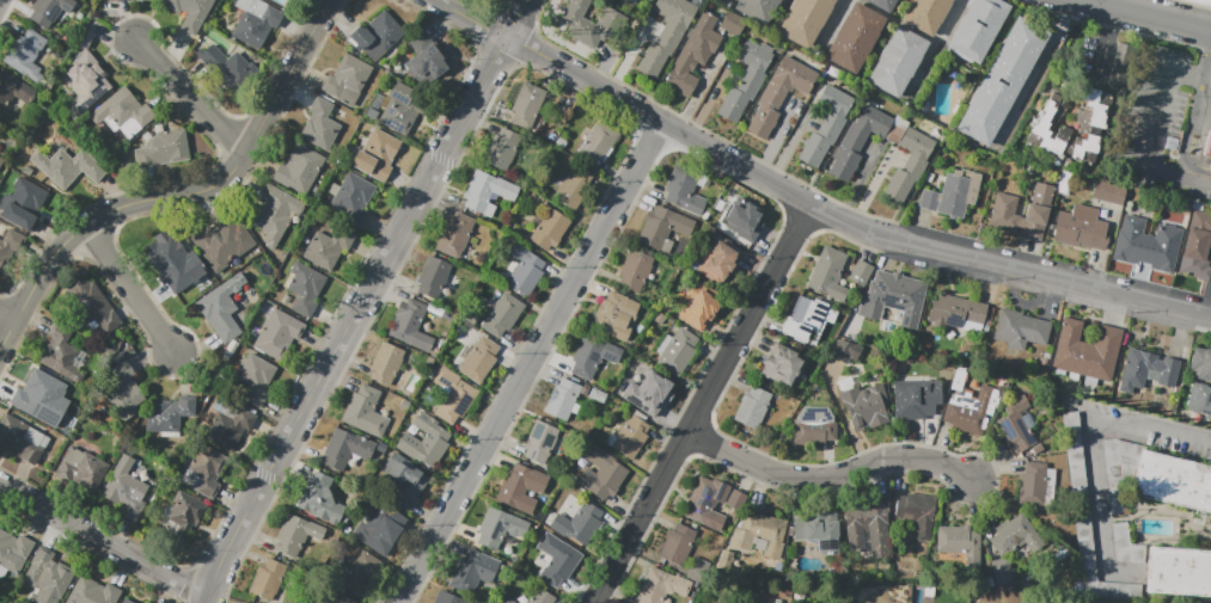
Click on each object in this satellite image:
building: (115, 0)
building: (630, 1)
building: (1201, 1)
building: (882, 4)
building: (757, 8)
building: (48, 12)
building: (190, 12)
building: (925, 14)
road: (1148, 16)
road: (470, 19)
building: (805, 20)
building: (253, 21)
building: (591, 21)
road: (833, 21)
building: (977, 29)
building: (377, 35)
building: (666, 36)
building: (854, 37)
road: (1103, 39)
road: (937, 42)
building: (25, 55)
building: (692, 55)
building: (424, 60)
building: (897, 62)
building: (1119, 64)
road: (1036, 67)
building: (230, 68)
building: (347, 80)
building: (746, 80)
building: (1002, 81)
building: (86, 84)
building: (13, 90)
building: (781, 92)
road: (192, 93)
building: (526, 105)
building: (402, 109)
building: (1091, 110)
building: (123, 112)
road: (1203, 112)
road: (1193, 121)
building: (320, 125)
building: (826, 125)
building: (1040, 127)
road: (1150, 133)
building: (857, 141)
building: (592, 143)
building: (1084, 147)
building: (1209, 148)
building: (163, 149)
building: (502, 149)
building: (375, 154)
building: (1, 160)
building: (909, 165)
building: (67, 166)
building: (1210, 166)
building: (299, 170)
building: (574, 186)
building: (684, 190)
building: (487, 192)
road: (181, 193)
building: (953, 193)
building: (1108, 193)
building: (353, 198)
building: (25, 204)
building: (1003, 208)
building: (275, 214)
road: (843, 216)
building: (747, 221)
building: (548, 227)
building: (662, 228)
building: (1082, 228)
building: (454, 235)
building: (222, 241)
building: (328, 246)
building: (1197, 246)
building: (8, 247)
building: (1150, 247)
building: (167, 260)
building: (236, 261)
building: (717, 263)
building: (525, 269)
building: (635, 270)
building: (1138, 270)
building: (861, 272)
building: (828, 275)
building: (433, 276)
road: (130, 287)
building: (304, 287)
building: (894, 299)
road: (362, 300)
building: (92, 303)
building: (699, 306)
building: (221, 308)
building: (955, 310)
building: (502, 314)
road: (7, 316)
building: (616, 316)
building: (808, 316)
building: (427, 326)
building: (414, 327)
building: (1020, 330)
building: (277, 333)
building: (843, 350)
building: (1088, 350)
building: (677, 351)
building: (65, 353)
building: (592, 356)
building: (478, 359)
road: (530, 362)
building: (386, 363)
building: (1200, 363)
building: (782, 367)
building: (1146, 370)
building: (256, 379)
road: (715, 384)
building: (1003, 384)
building: (124, 390)
building: (649, 394)
building: (453, 395)
building: (39, 396)
building: (562, 398)
building: (916, 399)
building: (1199, 399)
building: (968, 405)
building: (866, 406)
building: (752, 407)
building: (365, 412)
building: (169, 413)
building: (228, 425)
building: (813, 426)
building: (1017, 426)
road: (1151, 427)
building: (628, 436)
building: (20, 439)
building: (424, 442)
building: (540, 442)
building: (345, 448)
building: (1038, 448)
building: (1074, 456)
building: (1118, 459)
building: (81, 468)
building: (204, 472)
building: (600, 473)
road: (828, 474)
building: (404, 479)
building: (1175, 481)
building: (1032, 484)
building: (520, 487)
building: (126, 490)
road: (1097, 493)
building: (318, 499)
building: (707, 499)
building: (734, 499)
building: (917, 513)
building: (184, 517)
building: (577, 524)
building: (868, 525)
building: (499, 527)
building: (824, 530)
building: (381, 533)
building: (759, 534)
building: (1015, 535)
road: (104, 536)
building: (298, 537)
building: (960, 542)
building: (677, 543)
building: (1123, 543)
building: (14, 550)
building: (1089, 558)
building: (559, 565)
building: (472, 570)
building: (1002, 571)
building: (356, 572)
building: (1178, 573)
building: (48, 576)
building: (270, 578)
road: (604, 585)
building: (658, 586)
building: (92, 591)
building: (332, 597)
building: (448, 597)
building: (540, 597)
building: (126, 601)
building: (509, 601)

